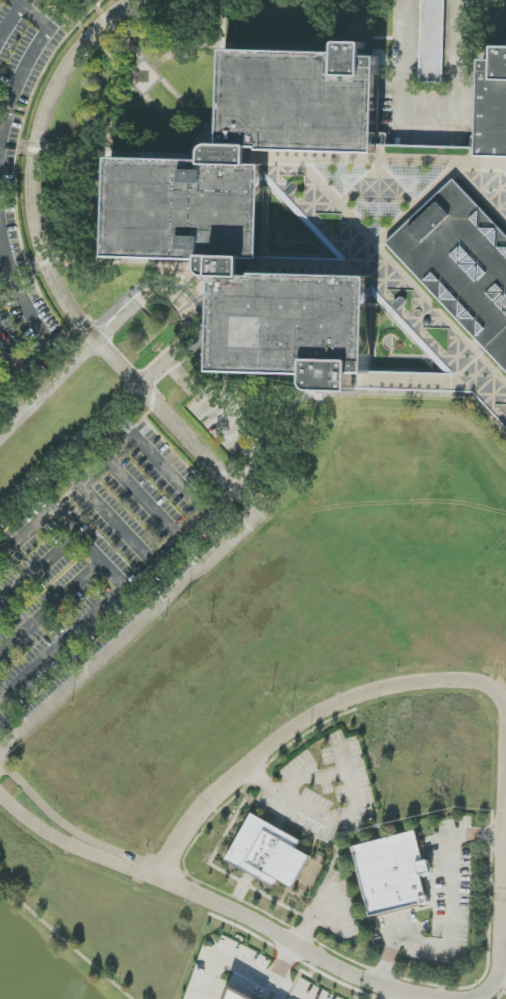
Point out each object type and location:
building: (432, 41)
road: (29, 60)
road: (398, 60)
road: (460, 61)
road: (4, 104)
building: (494, 106)
road: (427, 121)
building: (505, 157)
parking lot: (30, 211)
building: (186, 233)
road: (6, 260)
building: (462, 262)
road: (9, 291)
building: (505, 341)
road: (46, 343)
road: (80, 355)
road: (107, 408)
road: (163, 411)
parking lot: (97, 558)
road: (38, 570)
road: (120, 588)
road: (51, 607)
road: (309, 717)
road: (10, 725)
road: (349, 815)
road: (69, 826)
road: (69, 843)
building: (269, 853)
building: (392, 873)
road: (156, 875)
road: (501, 896)
road: (451, 920)
road: (64, 940)
road: (291, 946)
road: (247, 965)
road: (502, 977)
road: (291, 990)
building: (239, 995)
road: (393, 995)
road: (477, 998)

